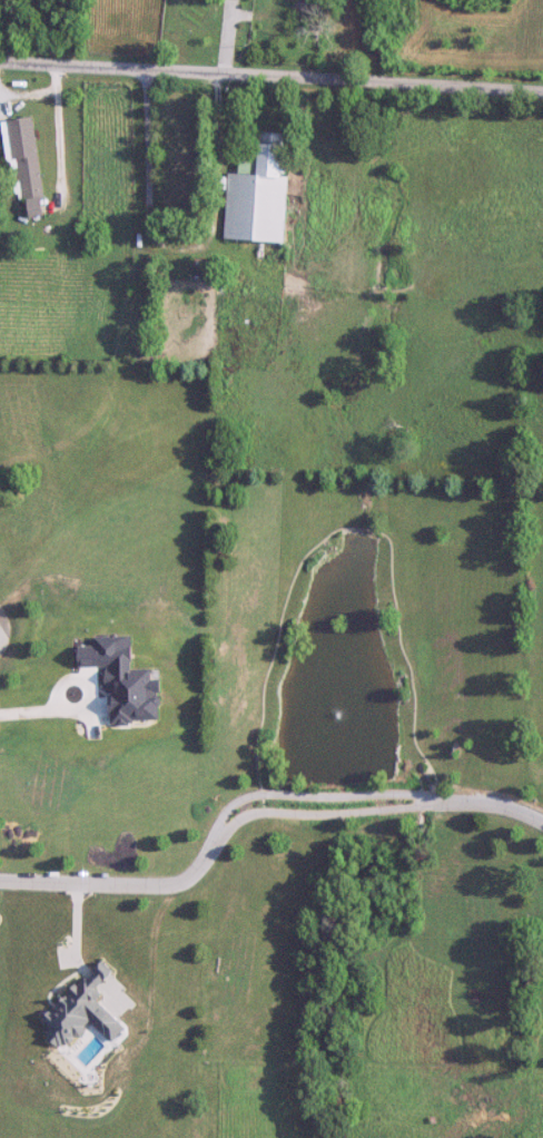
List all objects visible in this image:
road: (270, 80)
road: (62, 154)
building: (28, 167)
building: (258, 196)
road: (219, 246)
road: (82, 681)
road: (28, 712)
road: (255, 802)

